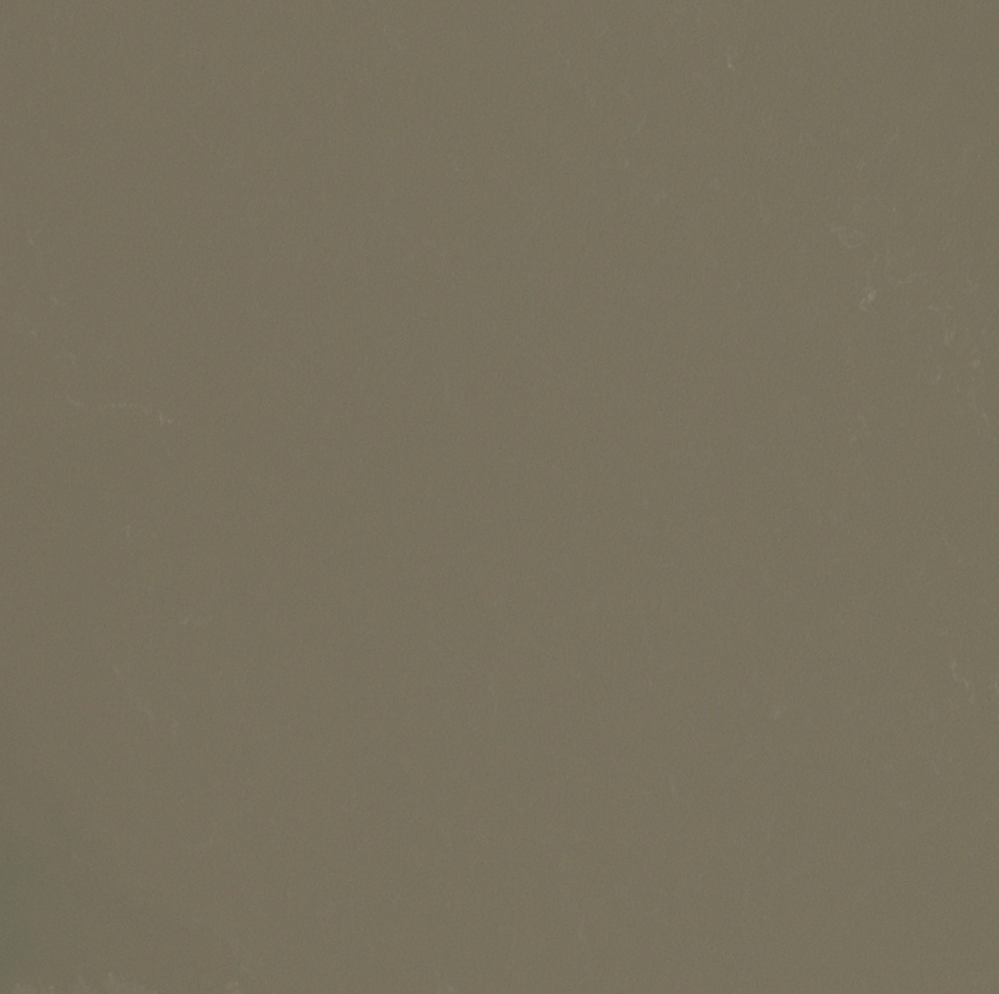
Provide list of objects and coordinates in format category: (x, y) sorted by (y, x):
river: (461, 497)

